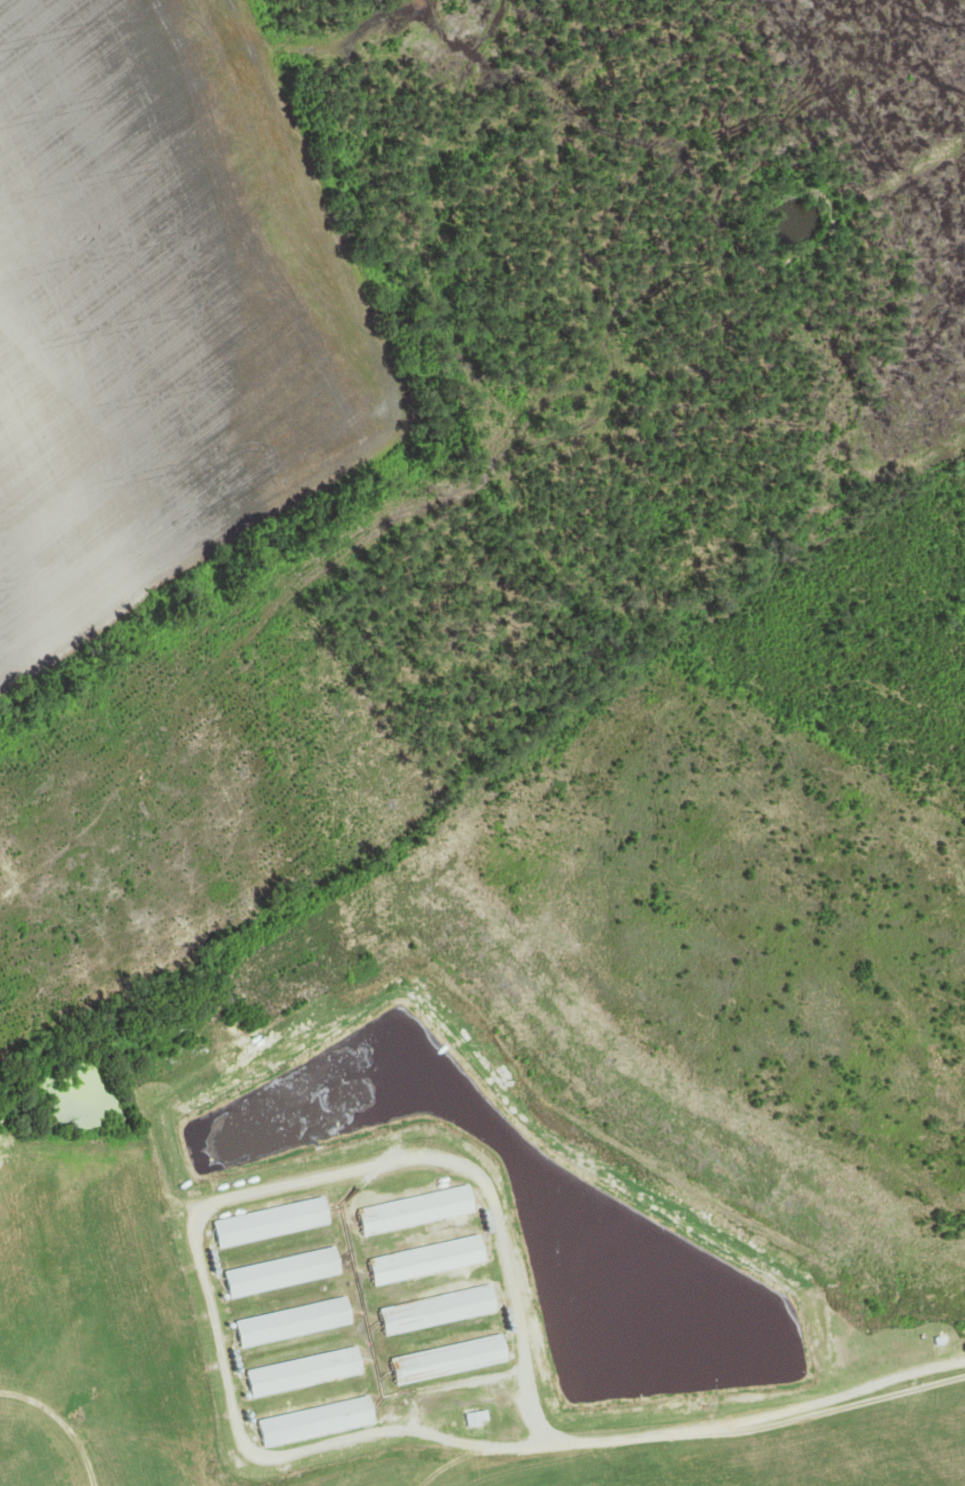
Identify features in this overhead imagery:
road: (210, 1206)
building: (415, 1209)
building: (270, 1221)
building: (427, 1259)
building: (281, 1271)
building: (438, 1309)
building: (293, 1321)
building: (448, 1358)
building: (304, 1371)
road: (754, 1413)
building: (473, 1419)
building: (315, 1420)
road: (61, 1423)
road: (450, 1464)

